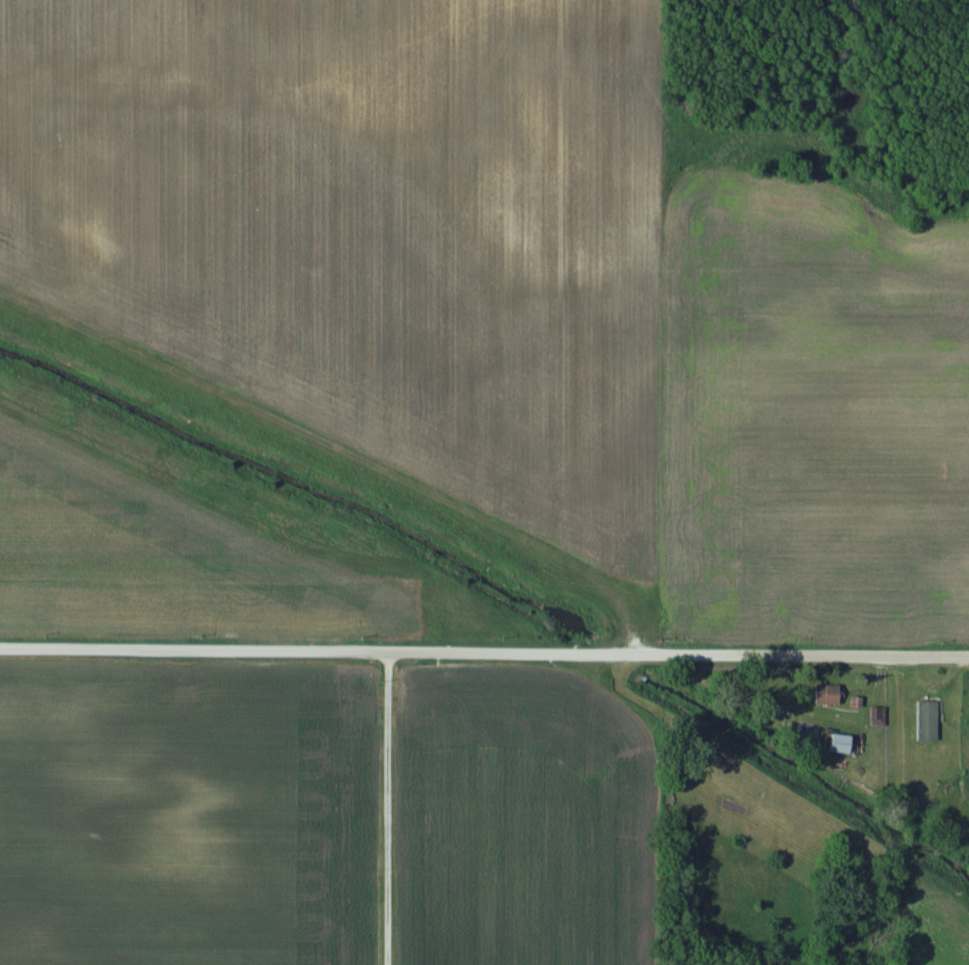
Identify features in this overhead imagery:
building: (961, 616)
road: (484, 650)
building: (825, 695)
building: (877, 717)
building: (926, 721)
building: (838, 744)
road: (385, 807)

